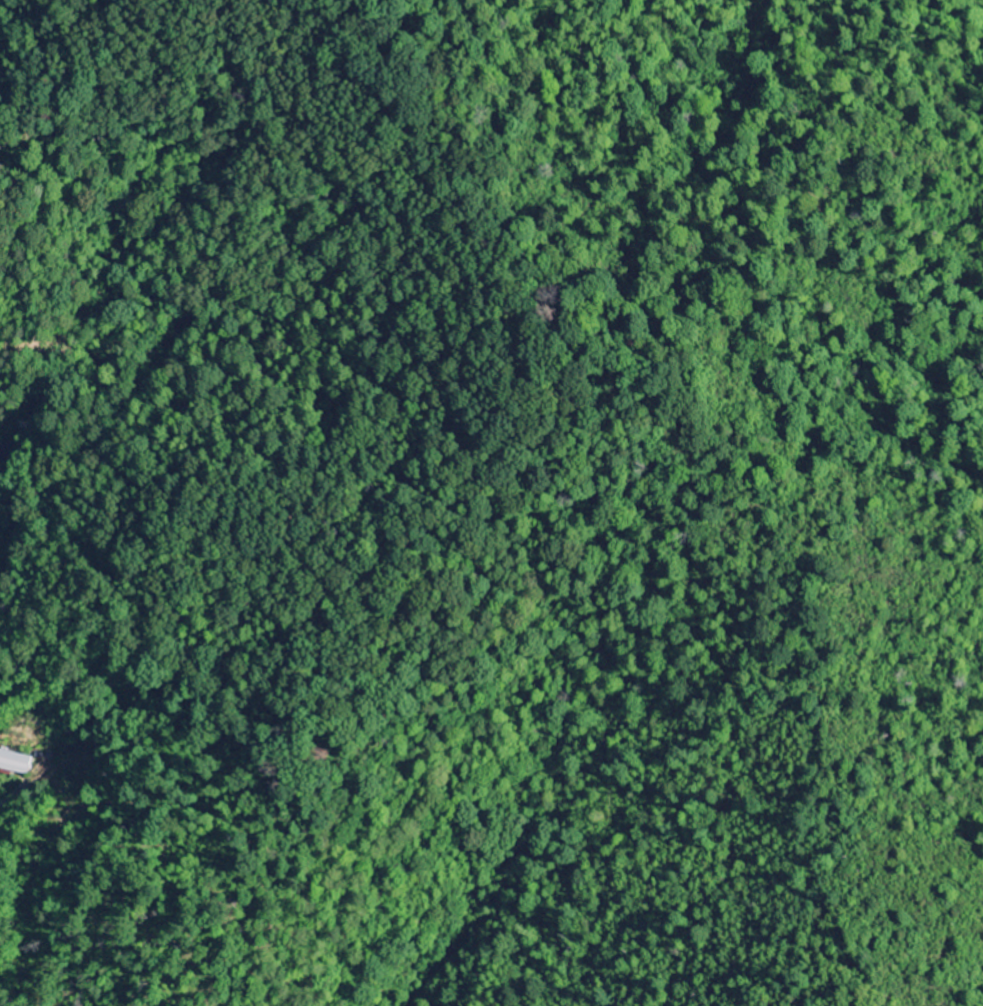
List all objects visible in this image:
building: (13, 763)

